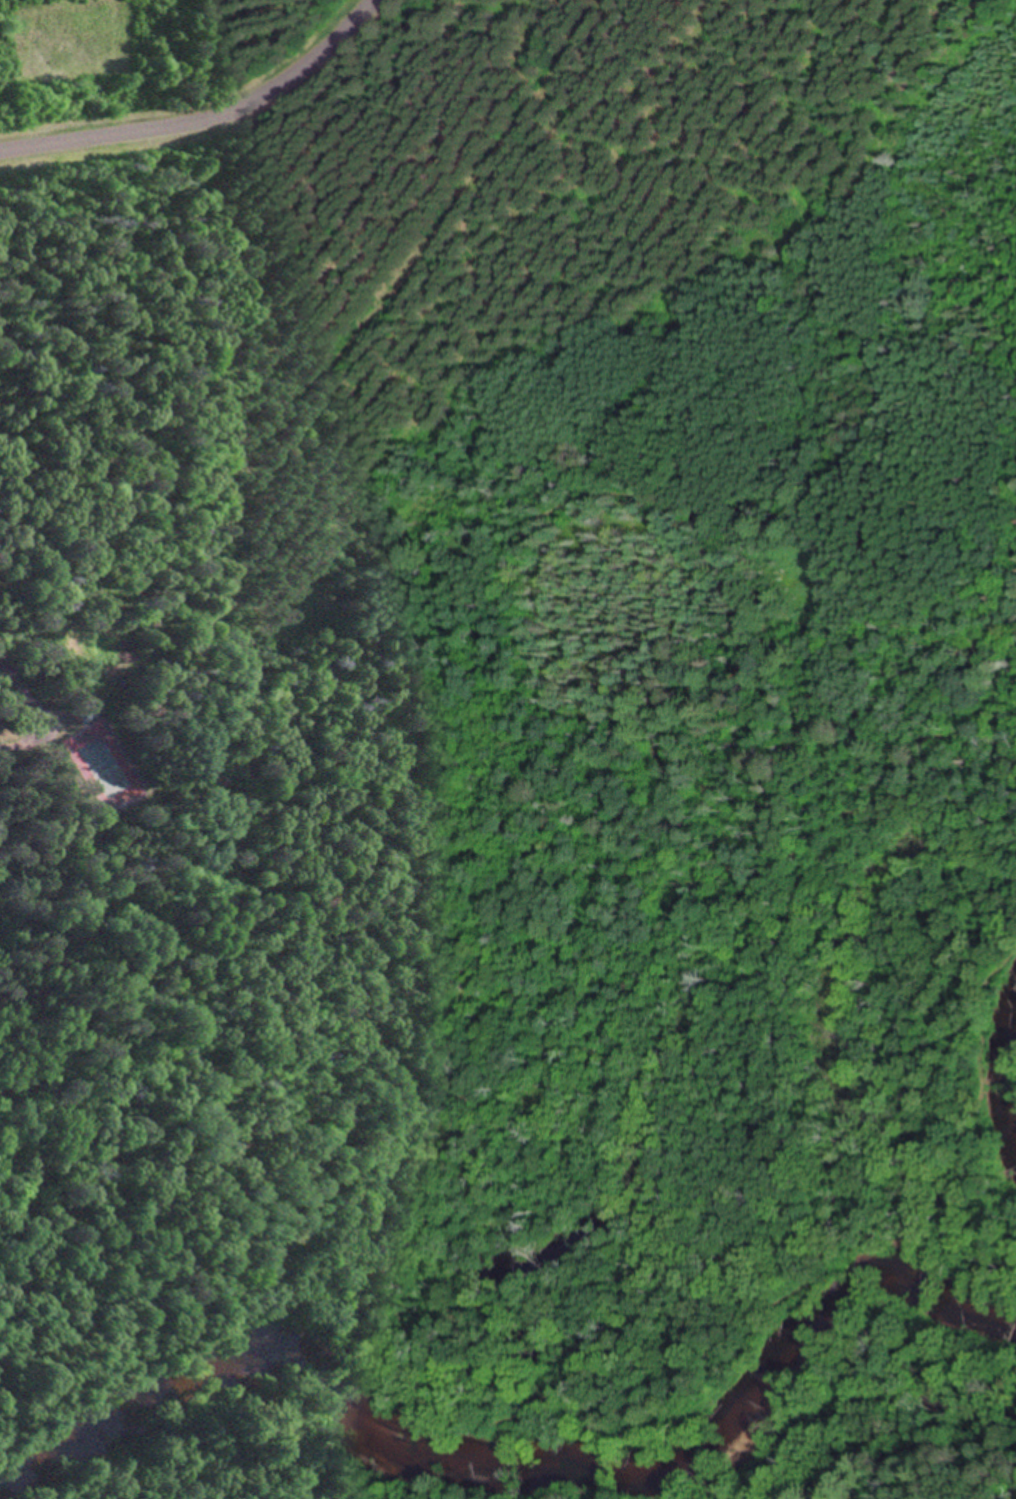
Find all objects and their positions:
road: (210, 123)
building: (77, 717)
river: (511, 1467)

